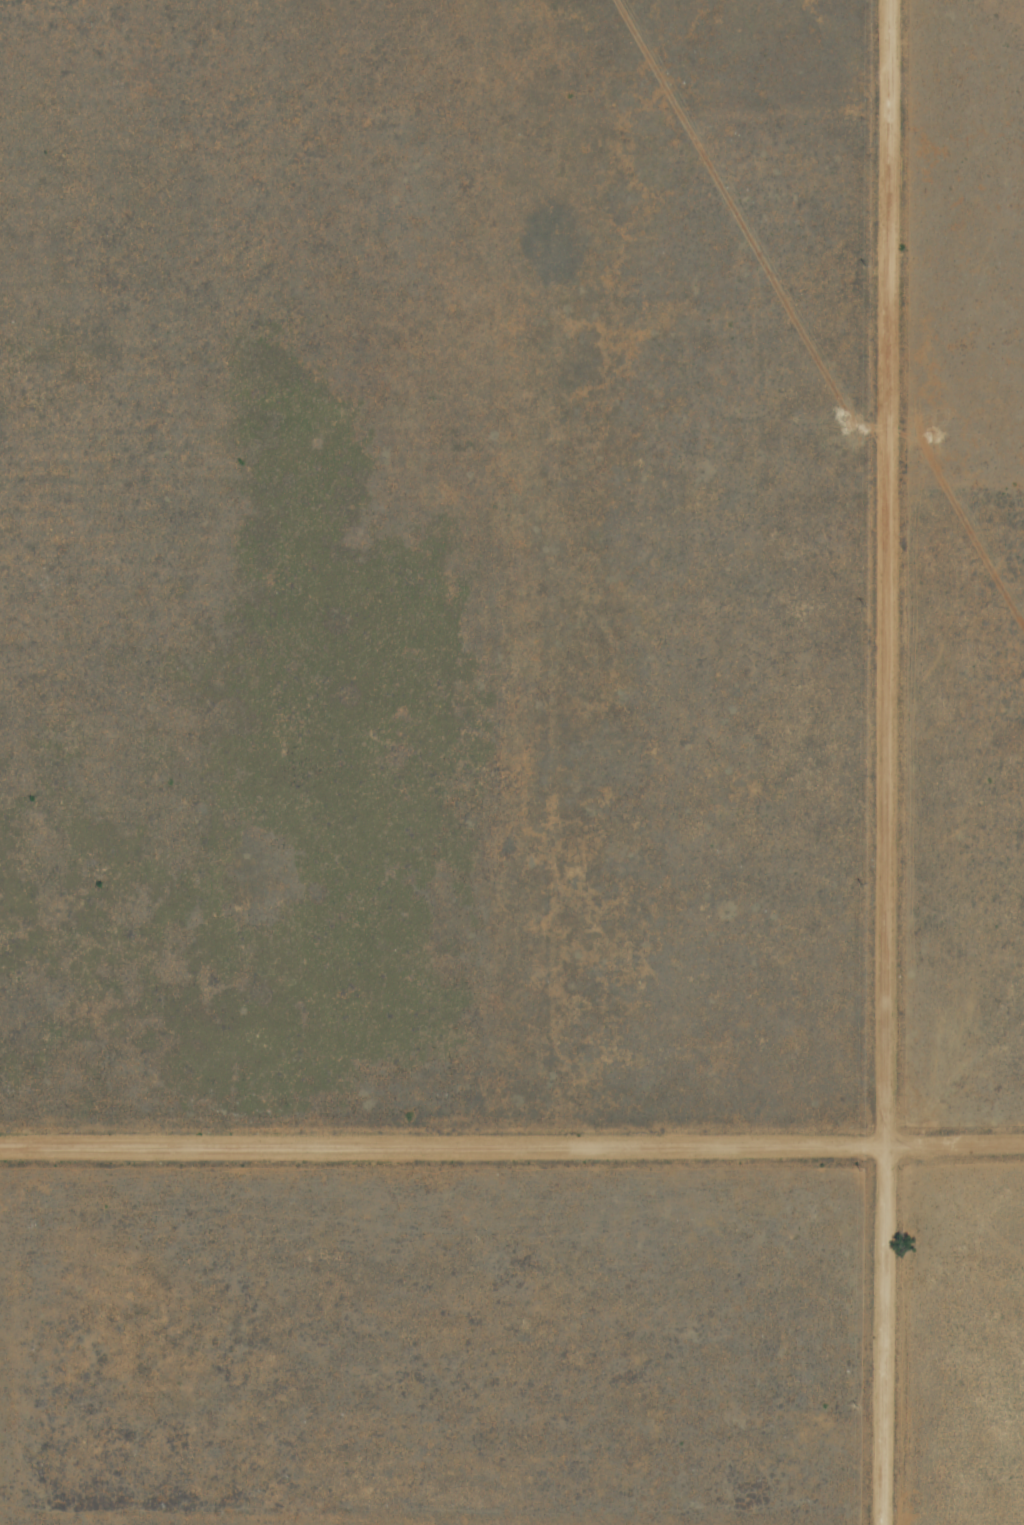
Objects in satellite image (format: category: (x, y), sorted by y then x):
road: (890, 762)
road: (512, 1153)

